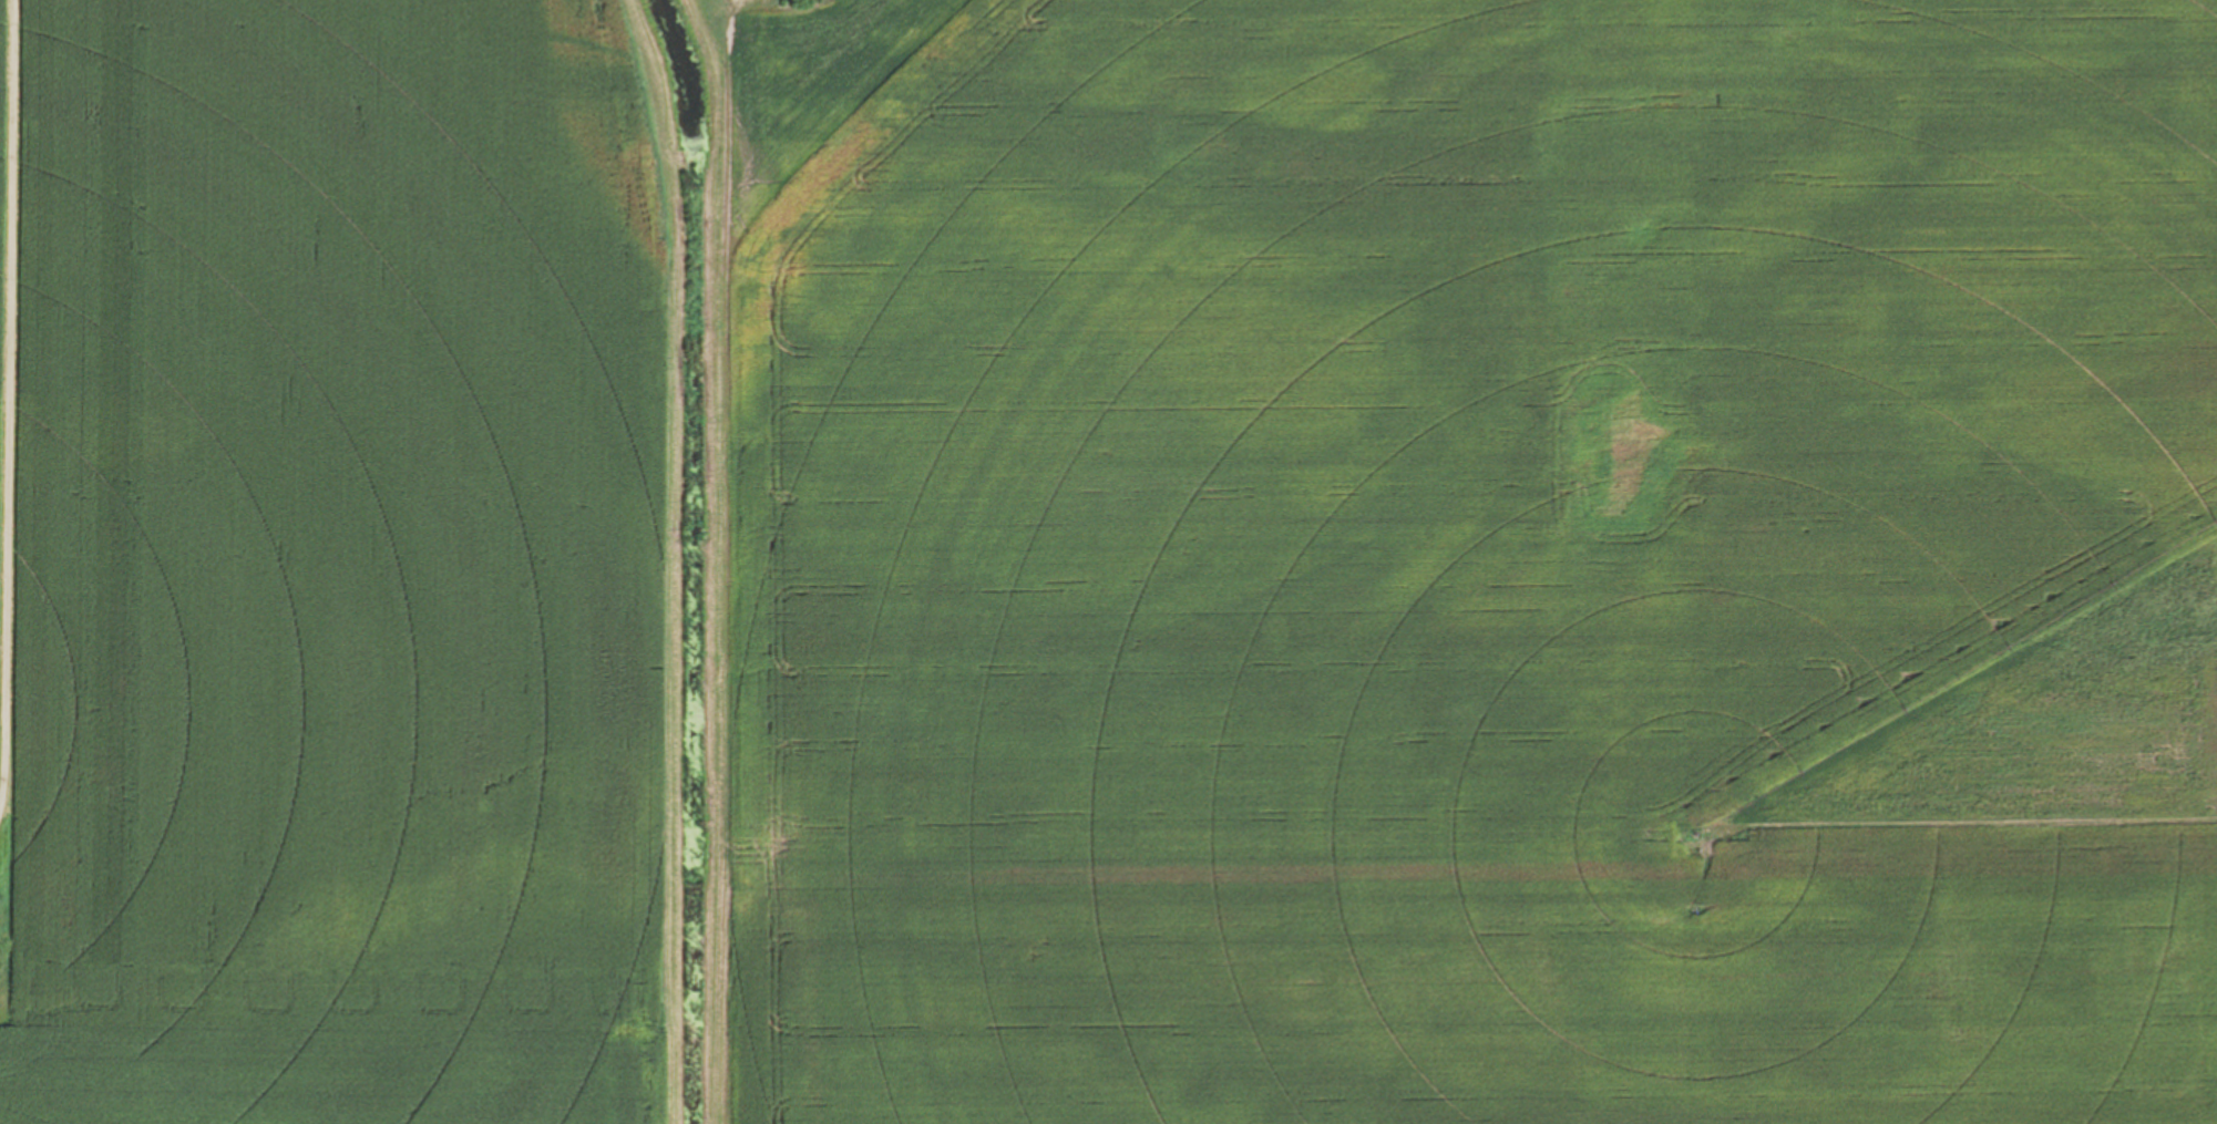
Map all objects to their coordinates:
road: (11, 440)
crop: (1462, 553)

